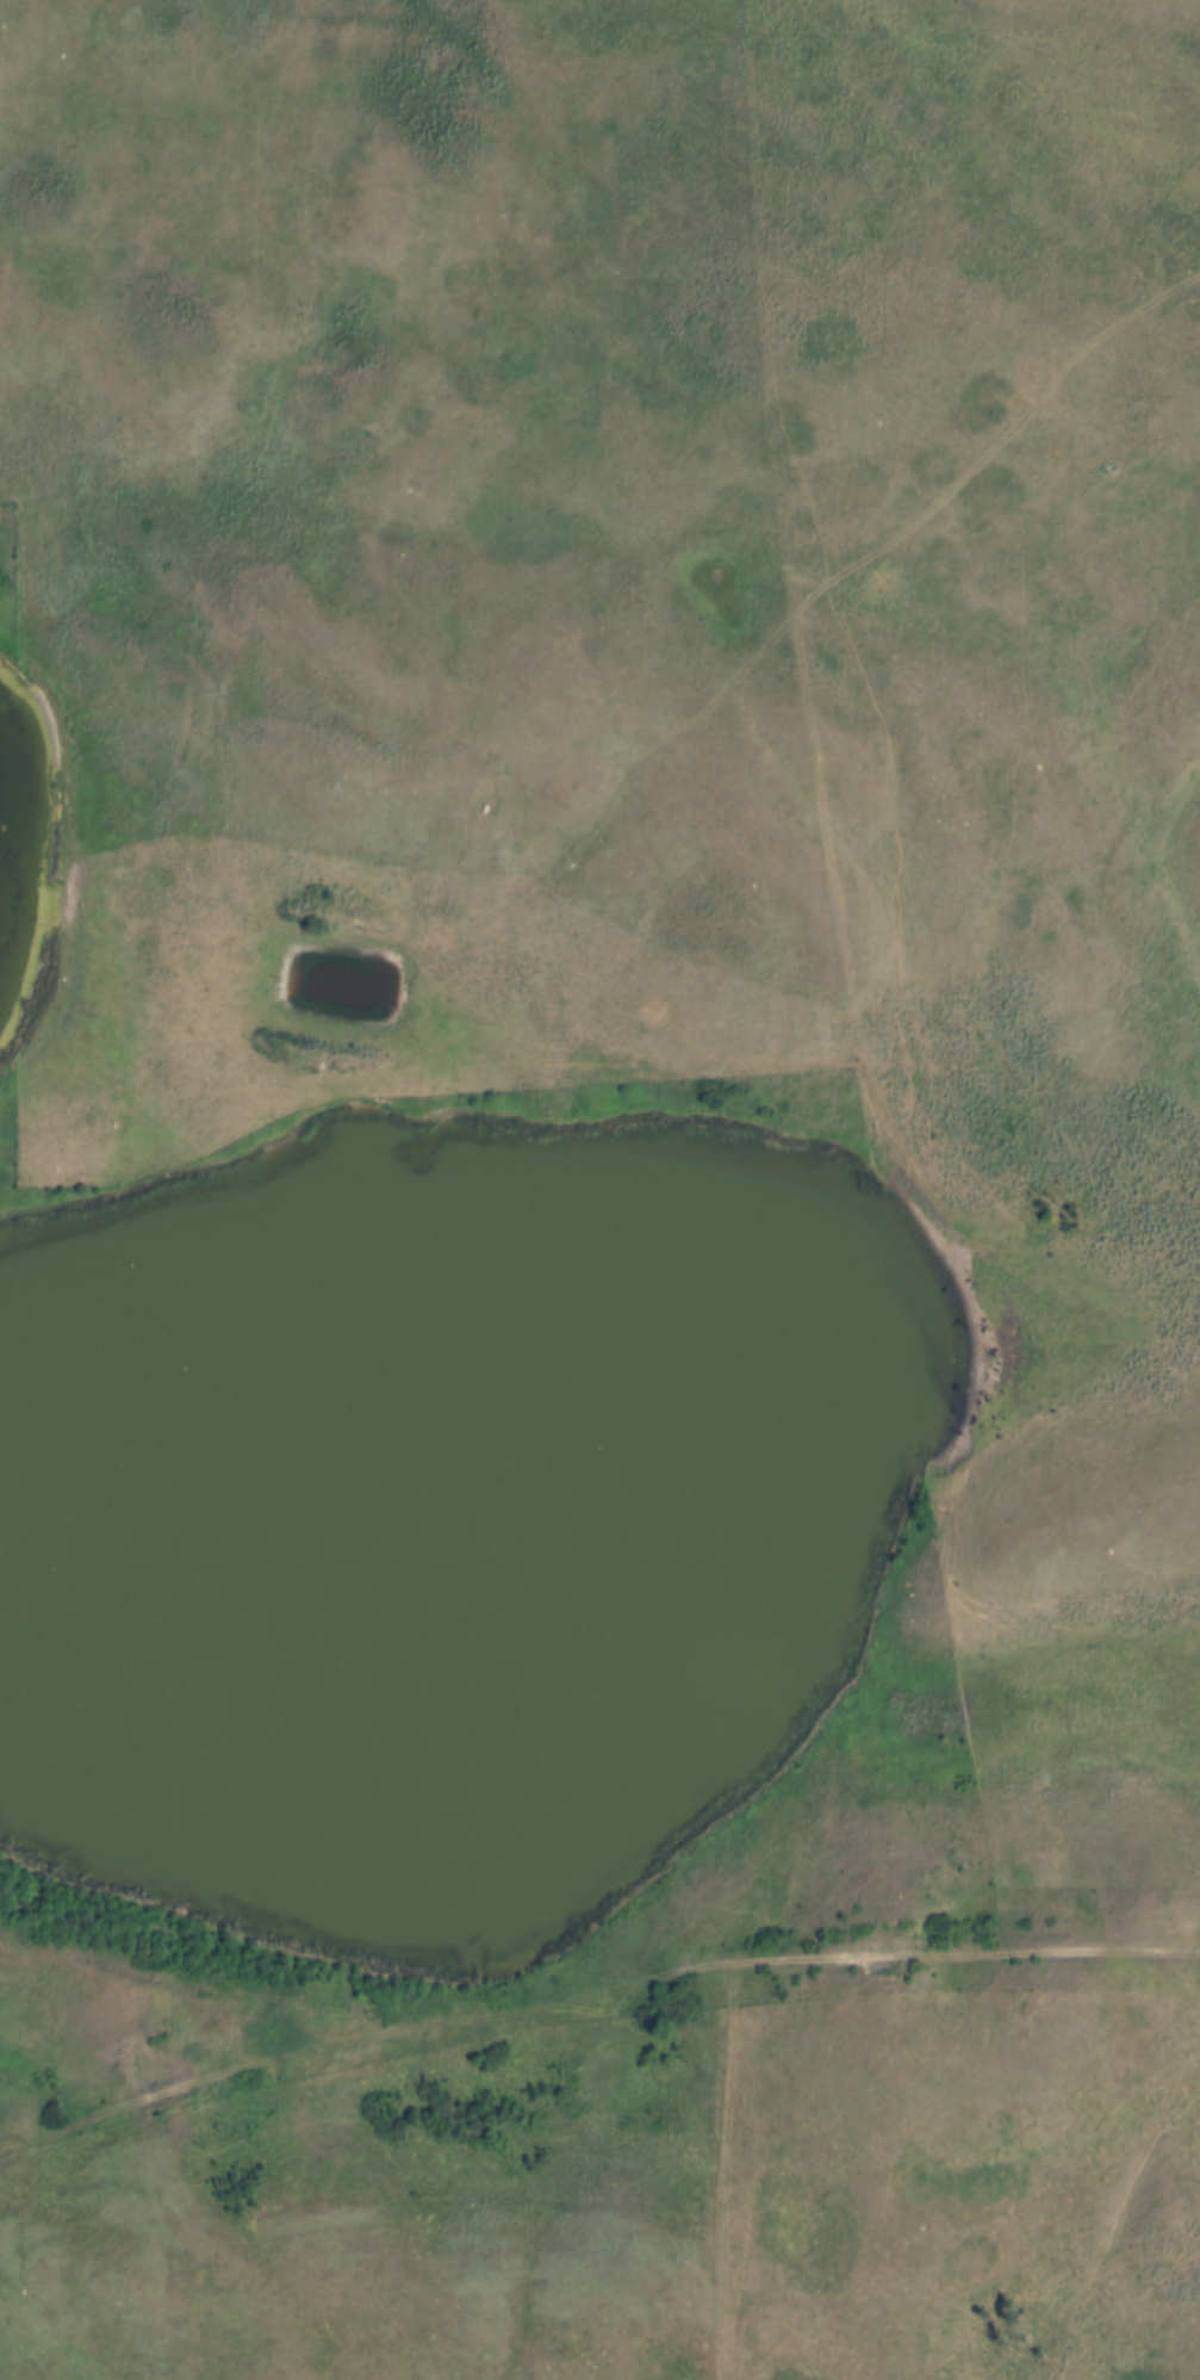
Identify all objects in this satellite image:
road: (590, 1988)

